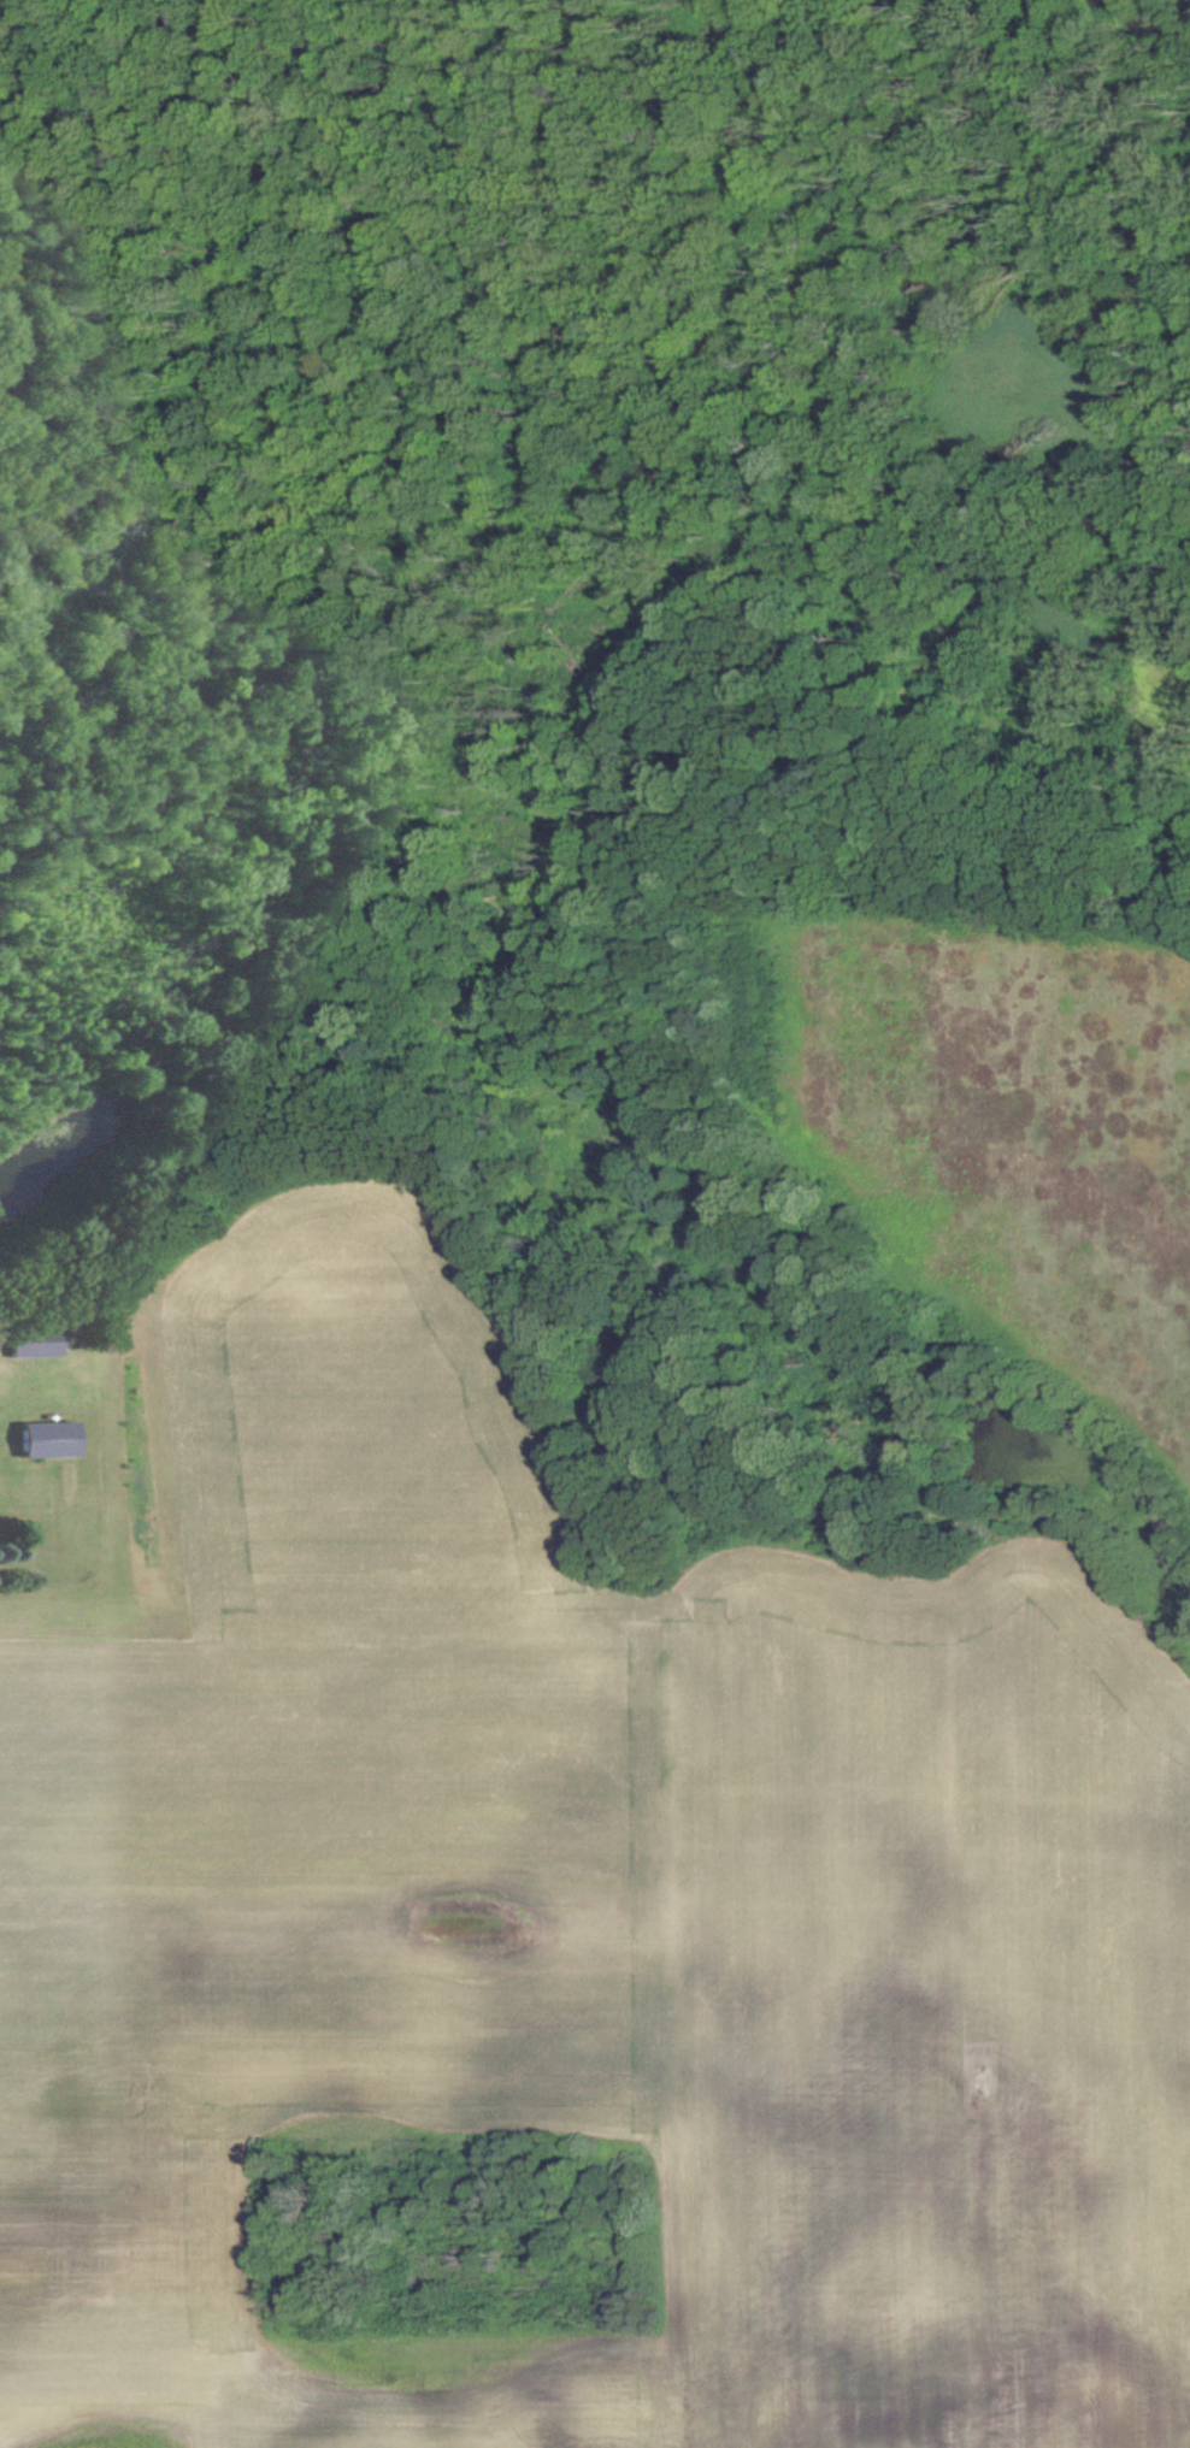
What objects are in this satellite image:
river: (1164, 13)
road: (880, 635)
road: (1172, 649)
road: (1023, 757)
road: (896, 773)
road: (1159, 845)
building: (35, 1345)
building: (48, 1440)

